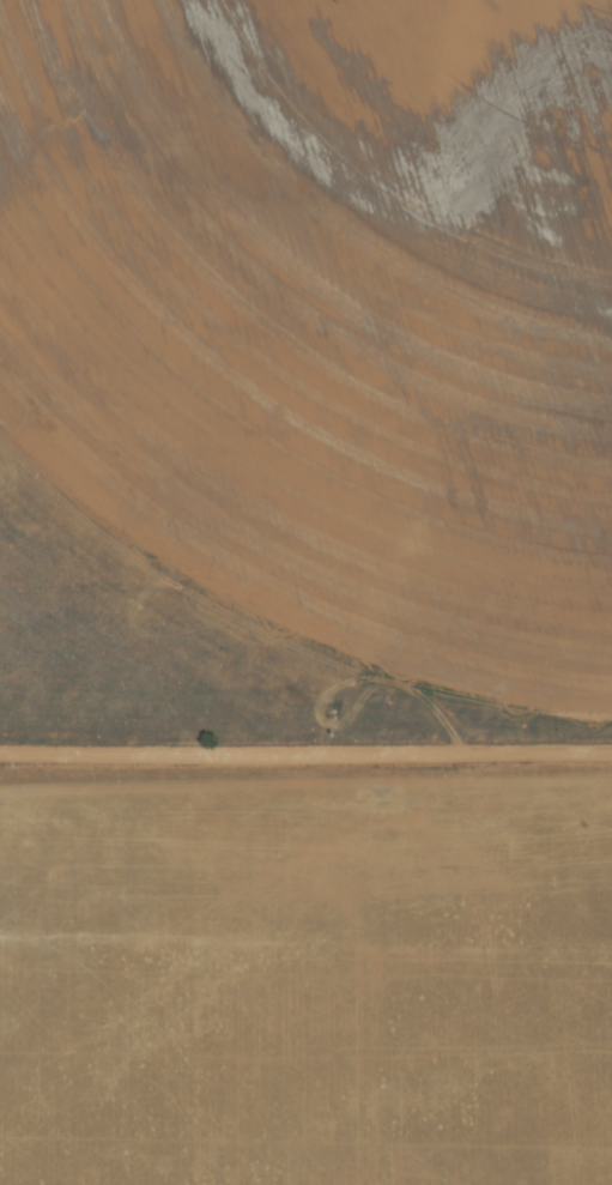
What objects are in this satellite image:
road: (305, 760)

